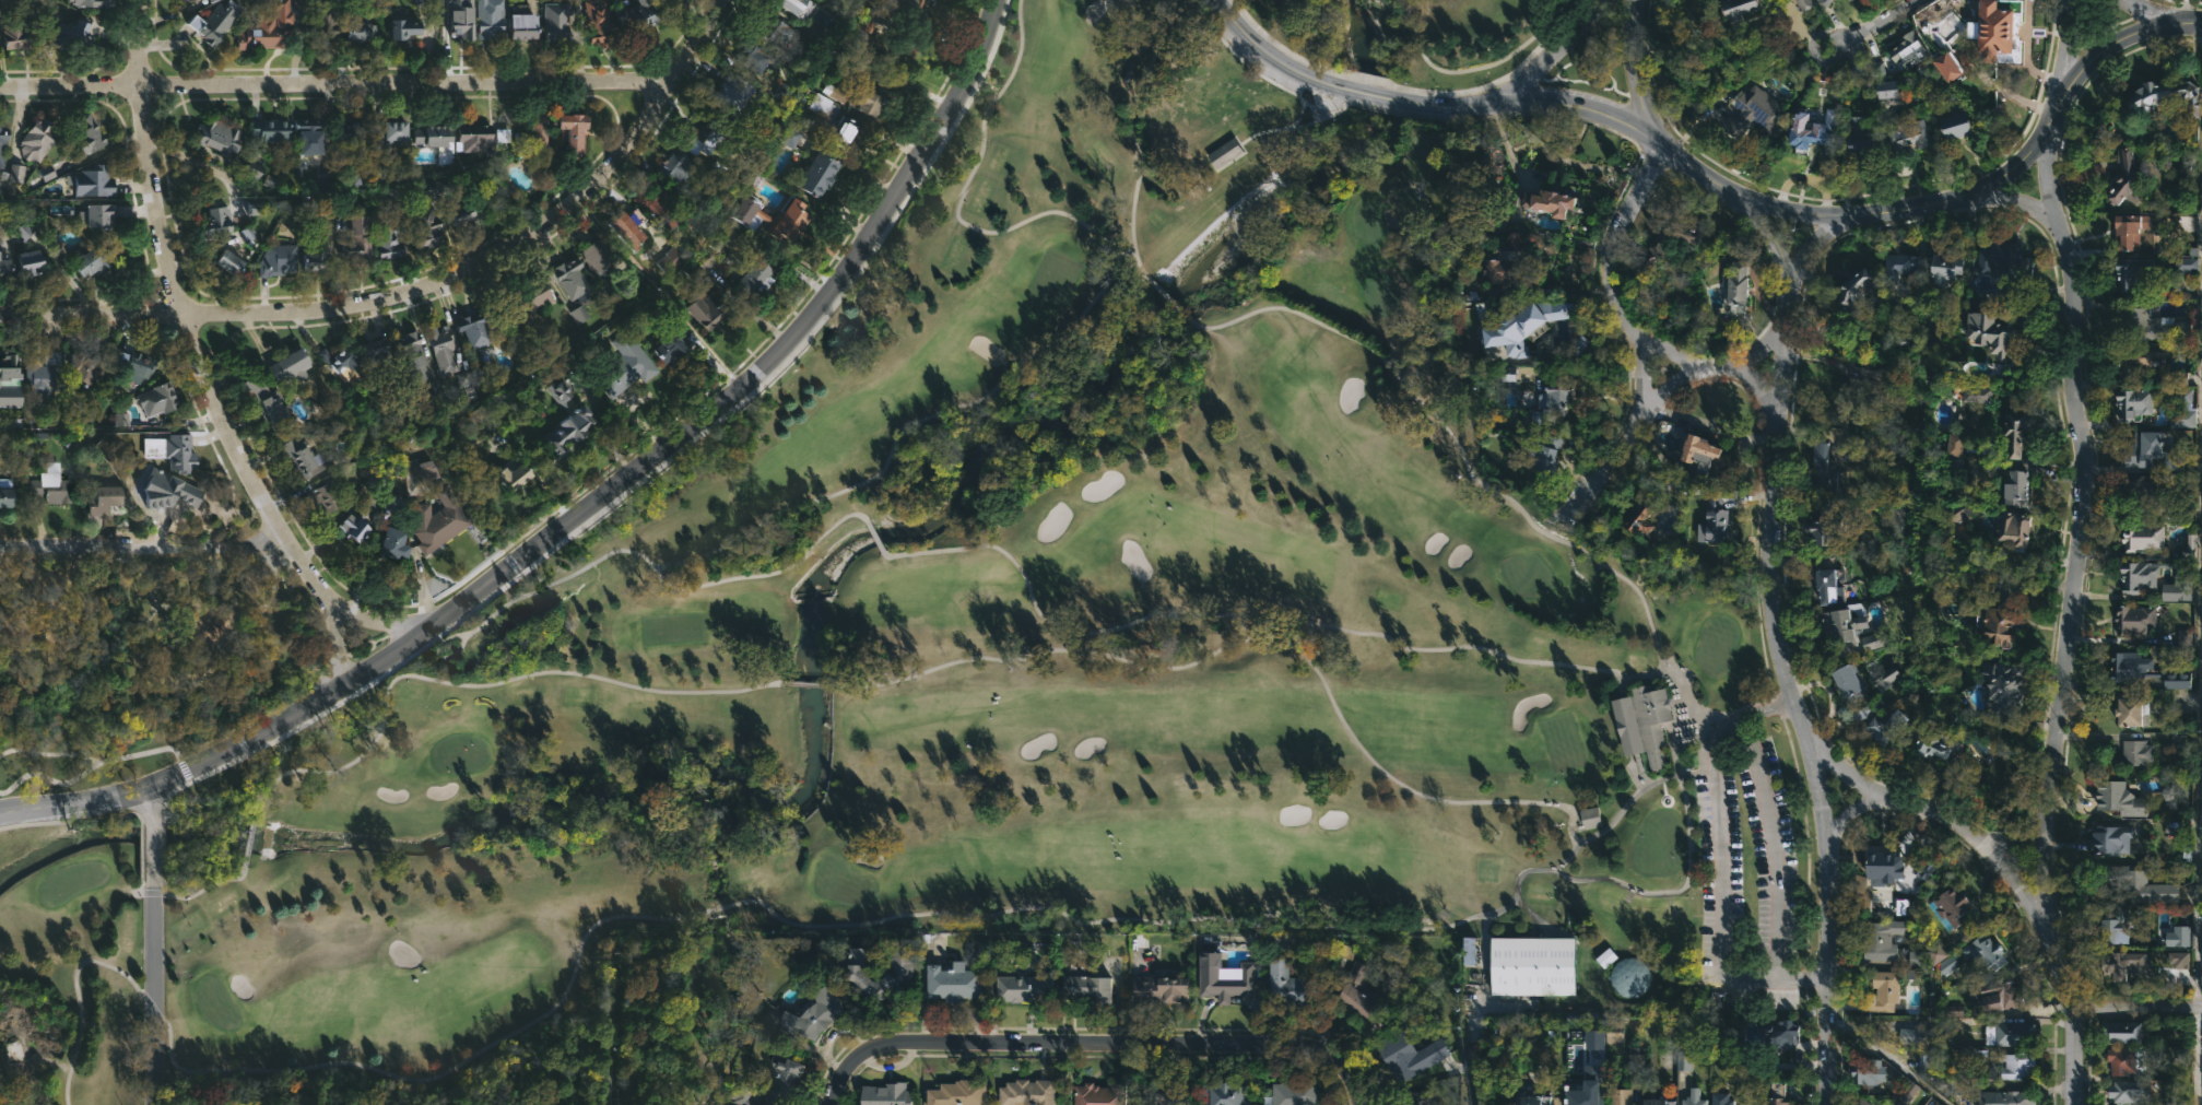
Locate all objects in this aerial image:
park: (1074, 0)
building: (1825, 1)
building: (89, 2)
building: (673, 2)
building: (1804, 4)
building: (797, 5)
building: (1736, 7)
road: (2148, 14)
building: (866, 15)
building: (638, 16)
building: (488, 17)
building: (458, 20)
building: (216, 21)
building: (560, 21)
building: (602, 21)
building: (907, 22)
road: (1864, 24)
building: (328, 25)
building: (528, 25)
building: (267, 27)
building: (408, 27)
building: (775, 27)
building: (1991, 28)
building: (360, 30)
building: (19, 32)
building: (72, 36)
road: (1258, 48)
road: (2068, 48)
building: (1908, 49)
road: (1549, 51)
building: (753, 55)
building: (1947, 63)
building: (846, 64)
road: (1630, 67)
building: (1876, 68)
road: (1465, 69)
building: (1921, 73)
road: (333, 86)
building: (1886, 87)
road: (1409, 89)
road: (1356, 92)
building: (732, 95)
building: (872, 97)
building: (2162, 97)
building: (825, 105)
building: (1752, 111)
building: (1956, 124)
building: (270, 129)
building: (392, 130)
building: (1806, 130)
road: (1130, 131)
building: (542, 132)
building: (576, 132)
building: (843, 132)
building: (352, 133)
building: (1909, 133)
building: (90, 134)
building: (309, 136)
building: (219, 137)
building: (483, 137)
building: (1859, 137)
building: (40, 139)
building: (704, 139)
building: (438, 140)
building: (3, 141)
building: (533, 146)
building: (2187, 161)
building: (676, 168)
building: (823, 174)
building: (17, 175)
building: (1243, 177)
building: (2126, 177)
building: (95, 180)
building: (1547, 201)
building: (659, 202)
road: (2016, 204)
building: (502, 208)
building: (102, 214)
building: (463, 214)
road: (1821, 215)
building: (778, 218)
building: (214, 222)
park: (1364, 222)
building: (425, 226)
building: (629, 227)
building: (2135, 227)
road: (2059, 230)
building: (723, 234)
building: (386, 235)
building: (1670, 235)
building: (356, 240)
building: (316, 251)
building: (32, 252)
building: (601, 256)
building: (279, 259)
building: (669, 259)
building: (96, 260)
building: (2003, 260)
building: (232, 261)
building: (697, 263)
building: (1505, 263)
building: (1899, 265)
building: (2183, 266)
building: (5, 268)
building: (1943, 268)
building: (754, 272)
building: (2133, 273)
park: (1052, 277)
building: (573, 278)
building: (1735, 285)
building: (1856, 285)
park: (1377, 292)
road: (1161, 293)
road: (428, 297)
building: (523, 299)
building: (710, 307)
building: (1524, 325)
building: (2147, 325)
building: (475, 329)
road: (1070, 329)
building: (1991, 331)
road: (1637, 334)
building: (676, 340)
building: (443, 349)
building: (375, 350)
road: (1762, 350)
building: (409, 351)
building: (2135, 357)
building: (337, 358)
building: (627, 364)
road: (774, 364)
building: (142, 365)
building: (293, 365)
building: (11, 366)
building: (1999, 367)
building: (84, 368)
road: (201, 368)
road: (1711, 368)
building: (471, 376)
building: (1865, 378)
building: (43, 379)
building: (2180, 379)
road: (1665, 390)
building: (1558, 393)
building: (1977, 393)
building: (162, 399)
building: (2133, 401)
building: (276, 408)
building: (2182, 409)
building: (478, 419)
road: (1712, 422)
building: (576, 430)
building: (2015, 432)
road: (1448, 434)
building: (1952, 445)
building: (1975, 445)
building: (174, 449)
building: (1844, 450)
building: (2152, 450)
building: (1539, 457)
building: (1700, 457)
building: (303, 458)
building: (426, 470)
building: (1820, 470)
building: (517, 477)
building: (55, 486)
building: (2014, 490)
building: (2140, 492)
building: (325, 495)
building: (8, 498)
building: (106, 499)
building: (1826, 505)
building: (1956, 514)
building: (1637, 518)
building: (438, 520)
building: (1715, 520)
road: (584, 524)
building: (2014, 528)
building: (357, 529)
building: (1820, 531)
road: (873, 536)
building: (2143, 537)
building: (396, 544)
road: (143, 545)
building: (2189, 549)
road: (634, 552)
building: (1989, 572)
park: (1526, 575)
building: (2152, 578)
road: (2199, 586)
building: (1828, 587)
road: (1270, 618)
building: (2134, 620)
building: (1999, 624)
park: (671, 628)
building: (1838, 628)
park: (982, 635)
building: (2183, 637)
building: (1872, 640)
park: (1715, 645)
road: (335, 646)
park: (141, 656)
road: (1778, 660)
building: (2129, 666)
building: (1886, 677)
road: (1318, 678)
building: (1848, 681)
building: (2177, 681)
road: (816, 684)
road: (475, 685)
building: (2001, 689)
building: (2131, 710)
building: (1641, 722)
road: (2052, 722)
building: (1880, 726)
park: (1561, 742)
building: (1935, 743)
road: (227, 748)
park: (458, 753)
building: (2133, 754)
road: (1638, 773)
road: (1845, 775)
building: (2119, 797)
road: (152, 803)
road: (1909, 803)
building: (1590, 818)
road: (75, 822)
road: (249, 835)
building: (2110, 840)
road: (1774, 842)
road: (154, 854)
road: (140, 856)
road: (1720, 861)
building: (1883, 865)
building: (1923, 868)
park: (70, 881)
park: (839, 882)
building: (2140, 885)
road: (200, 887)
road: (1672, 892)
building: (1906, 895)
building: (1950, 907)
road: (710, 910)
building: (2116, 925)
building: (2177, 937)
building: (1879, 940)
building: (1983, 952)
building: (1507, 953)
building: (2201, 953)
road: (1483, 956)
building: (1549, 957)
building: (1916, 959)
building: (2177, 959)
building: (1943, 960)
building: (2115, 964)
building: (2201, 974)
building: (1222, 975)
building: (891, 976)
building: (951, 984)
building: (1081, 985)
building: (1287, 986)
building: (1022, 988)
building: (1158, 990)
building: (1882, 990)
building: (1356, 992)
road: (154, 995)
building: (1997, 995)
park: (214, 1002)
road: (2134, 1007)
road: (1476, 1011)
building: (1955, 1011)
building: (815, 1015)
building: (1614, 1031)
building: (1779, 1031)
building: (2122, 1032)
road: (1108, 1033)
building: (2004, 1035)
building: (1915, 1036)
road: (1887, 1055)
road: (2194, 1056)
building: (1399, 1057)
building: (2124, 1059)
building: (1684, 1060)
building: (2016, 1067)
building: (1867, 1071)
road: (1470, 1074)
building: (777, 1079)
building: (1952, 1085)
building: (2129, 1091)
road: (831, 1092)
building: (955, 1092)
building: (1025, 1092)
building: (1293, 1093)
building: (884, 1094)
building: (1097, 1094)
building: (1168, 1094)
building: (1223, 1094)
building: (1777, 1094)
building: (1618, 1096)
building: (1417, 1097)
building: (1528, 1097)
building: (1693, 1098)
building: (2006, 1098)
building: (1720, 1100)
building: (1859, 1101)
building: (1653, 1103)
building: (1936, 1103)

